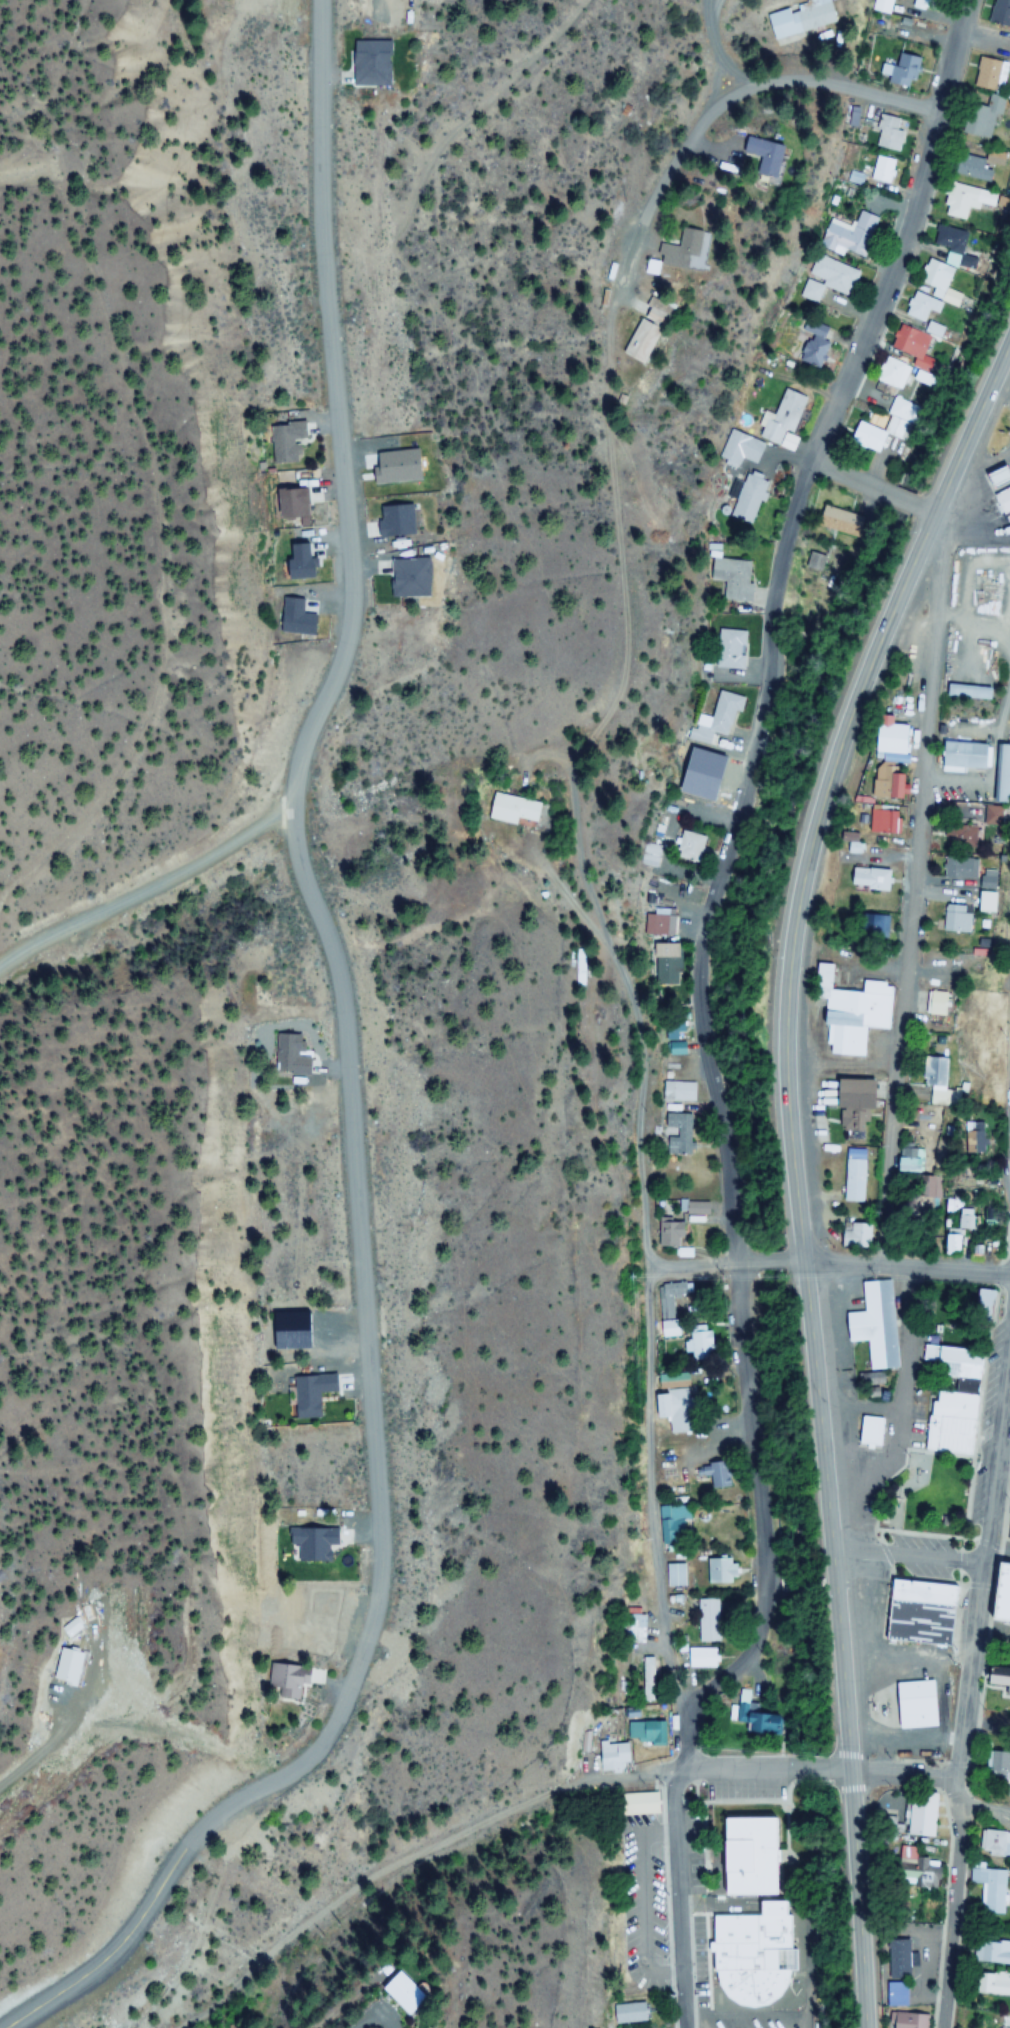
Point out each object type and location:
building: (924, 4)
building: (883, 7)
building: (997, 12)
building: (800, 19)
road: (723, 56)
road: (955, 56)
building: (364, 62)
building: (902, 69)
building: (986, 75)
road: (856, 91)
building: (976, 120)
building: (887, 132)
building: (759, 155)
building: (990, 157)
building: (968, 168)
building: (882, 170)
building: (960, 199)
building: (850, 236)
building: (677, 250)
building: (940, 262)
building: (827, 280)
building: (919, 307)
building: (640, 342)
building: (907, 344)
building: (812, 346)
building: (894, 375)
building: (782, 414)
building: (873, 434)
building: (289, 441)
building: (741, 449)
road: (876, 487)
building: (747, 498)
building: (298, 500)
building: (838, 520)
building: (403, 578)
building: (733, 578)
building: (730, 650)
road: (772, 681)
building: (968, 692)
building: (713, 721)
building: (889, 737)
building: (961, 758)
building: (1000, 775)
building: (890, 788)
road: (830, 789)
building: (510, 810)
building: (877, 822)
building: (956, 837)
building: (685, 847)
building: (966, 873)
road: (589, 879)
building: (863, 880)
road: (146, 890)
building: (982, 903)
building: (952, 920)
building: (657, 925)
building: (867, 928)
building: (663, 960)
building: (846, 1013)
road: (897, 1024)
building: (673, 1034)
road: (1008, 1039)
building: (289, 1056)
road: (351, 1078)
building: (934, 1084)
building: (679, 1092)
building: (848, 1106)
building: (679, 1133)
building: (965, 1138)
building: (905, 1162)
building: (927, 1187)
building: (851, 1188)
building: (679, 1225)
building: (953, 1238)
road: (726, 1267)
road: (906, 1270)
building: (673, 1297)
building: (980, 1305)
building: (870, 1324)
building: (669, 1329)
building: (953, 1362)
building: (307, 1393)
road: (819, 1409)
building: (675, 1410)
building: (952, 1421)
building: (865, 1429)
building: (713, 1473)
park: (922, 1495)
road: (760, 1505)
building: (672, 1525)
building: (313, 1543)
road: (908, 1556)
building: (718, 1570)
building: (675, 1575)
building: (916, 1611)
building: (706, 1621)
building: (633, 1629)
building: (701, 1657)
building: (286, 1680)
building: (648, 1684)
road: (962, 1693)
building: (912, 1704)
building: (652, 1731)
building: (611, 1756)
road: (817, 1774)
road: (852, 1789)
building: (637, 1804)
road: (984, 1808)
building: (919, 1816)
building: (994, 1844)
building: (740, 1855)
road: (433, 1858)
building: (913, 1868)
road: (681, 1872)
building: (990, 1889)
building: (991, 1952)
building: (747, 1956)
building: (894, 1958)
building: (993, 1984)
building: (394, 1992)
building: (892, 1994)
building: (630, 2013)
building: (906, 2020)

